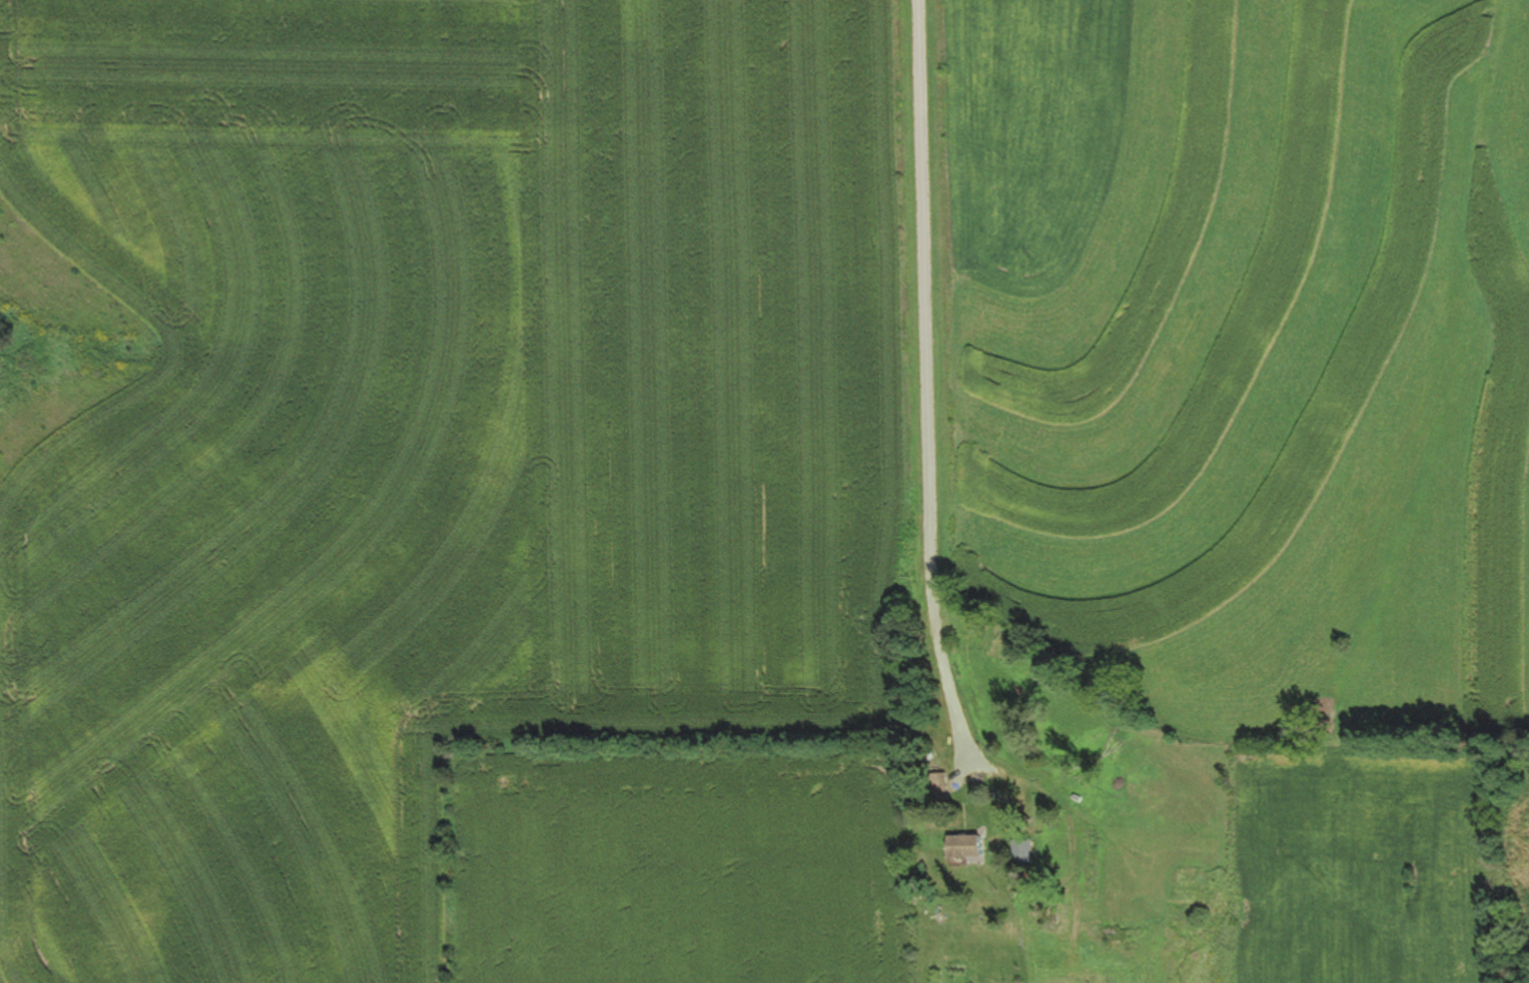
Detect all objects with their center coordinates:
road: (908, 426)
building: (936, 788)
building: (961, 848)
building: (1020, 851)

